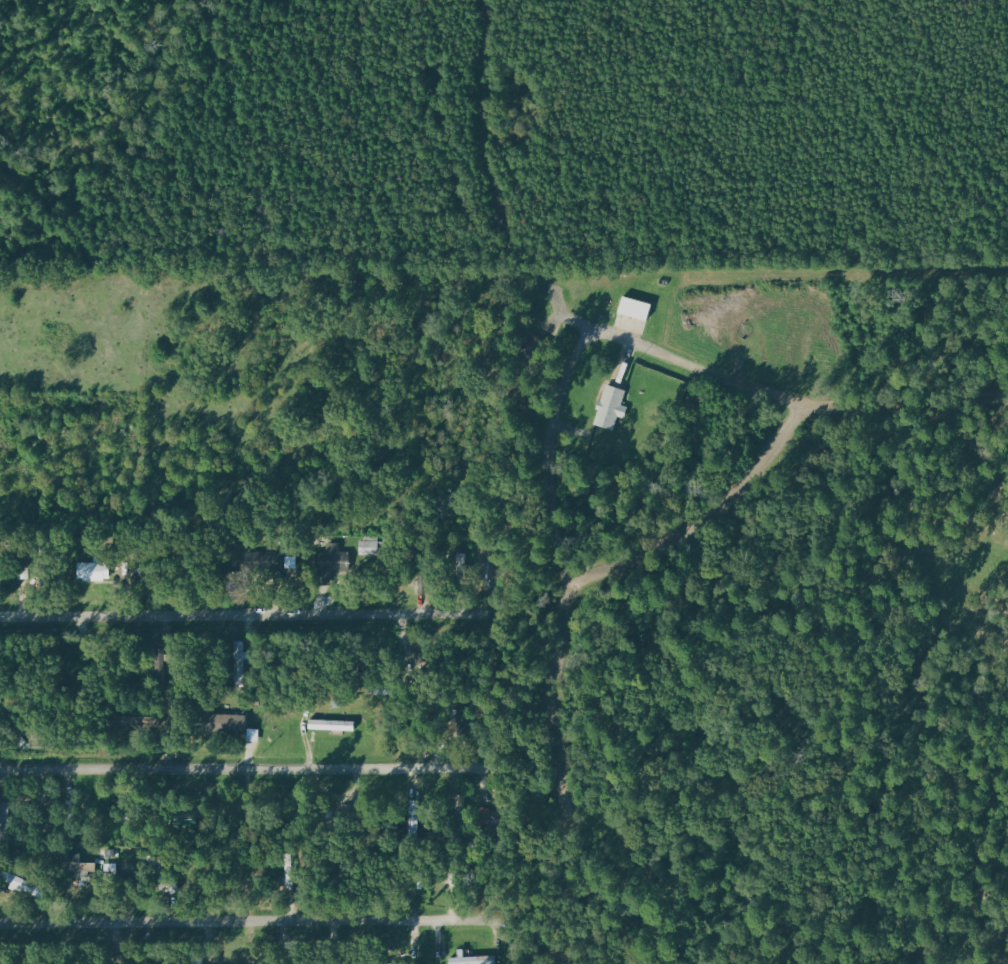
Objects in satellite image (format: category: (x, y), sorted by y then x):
road: (490, 178)
building: (634, 309)
road: (920, 397)
building: (610, 407)
road: (542, 448)
road: (781, 451)
building: (368, 545)
building: (271, 561)
building: (462, 562)
building: (329, 563)
building: (92, 571)
road: (229, 616)
building: (240, 661)
building: (136, 721)
building: (225, 722)
building: (331, 725)
road: (251, 770)
road: (557, 773)
building: (109, 854)
building: (77, 866)
building: (110, 868)
road: (246, 919)
building: (471, 960)

